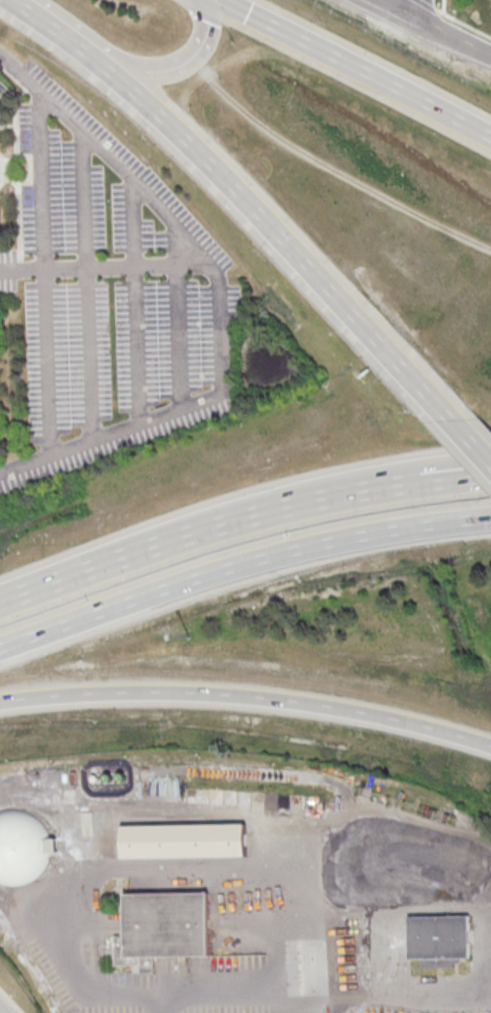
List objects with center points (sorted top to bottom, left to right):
road: (425, 5)
road: (444, 7)
road: (387, 9)
road: (409, 9)
road: (462, 24)
road: (56, 27)
road: (448, 38)
road: (176, 64)
road: (355, 67)
building: (0, 222)
road: (281, 231)
road: (42, 268)
road: (87, 287)
road: (136, 304)
road: (180, 338)
road: (221, 385)
road: (472, 437)
road: (24, 463)
road: (240, 518)
road: (240, 564)
road: (247, 697)
building: (184, 839)
building: (23, 849)
building: (167, 922)
building: (441, 938)
road: (214, 998)
road: (163, 1005)

